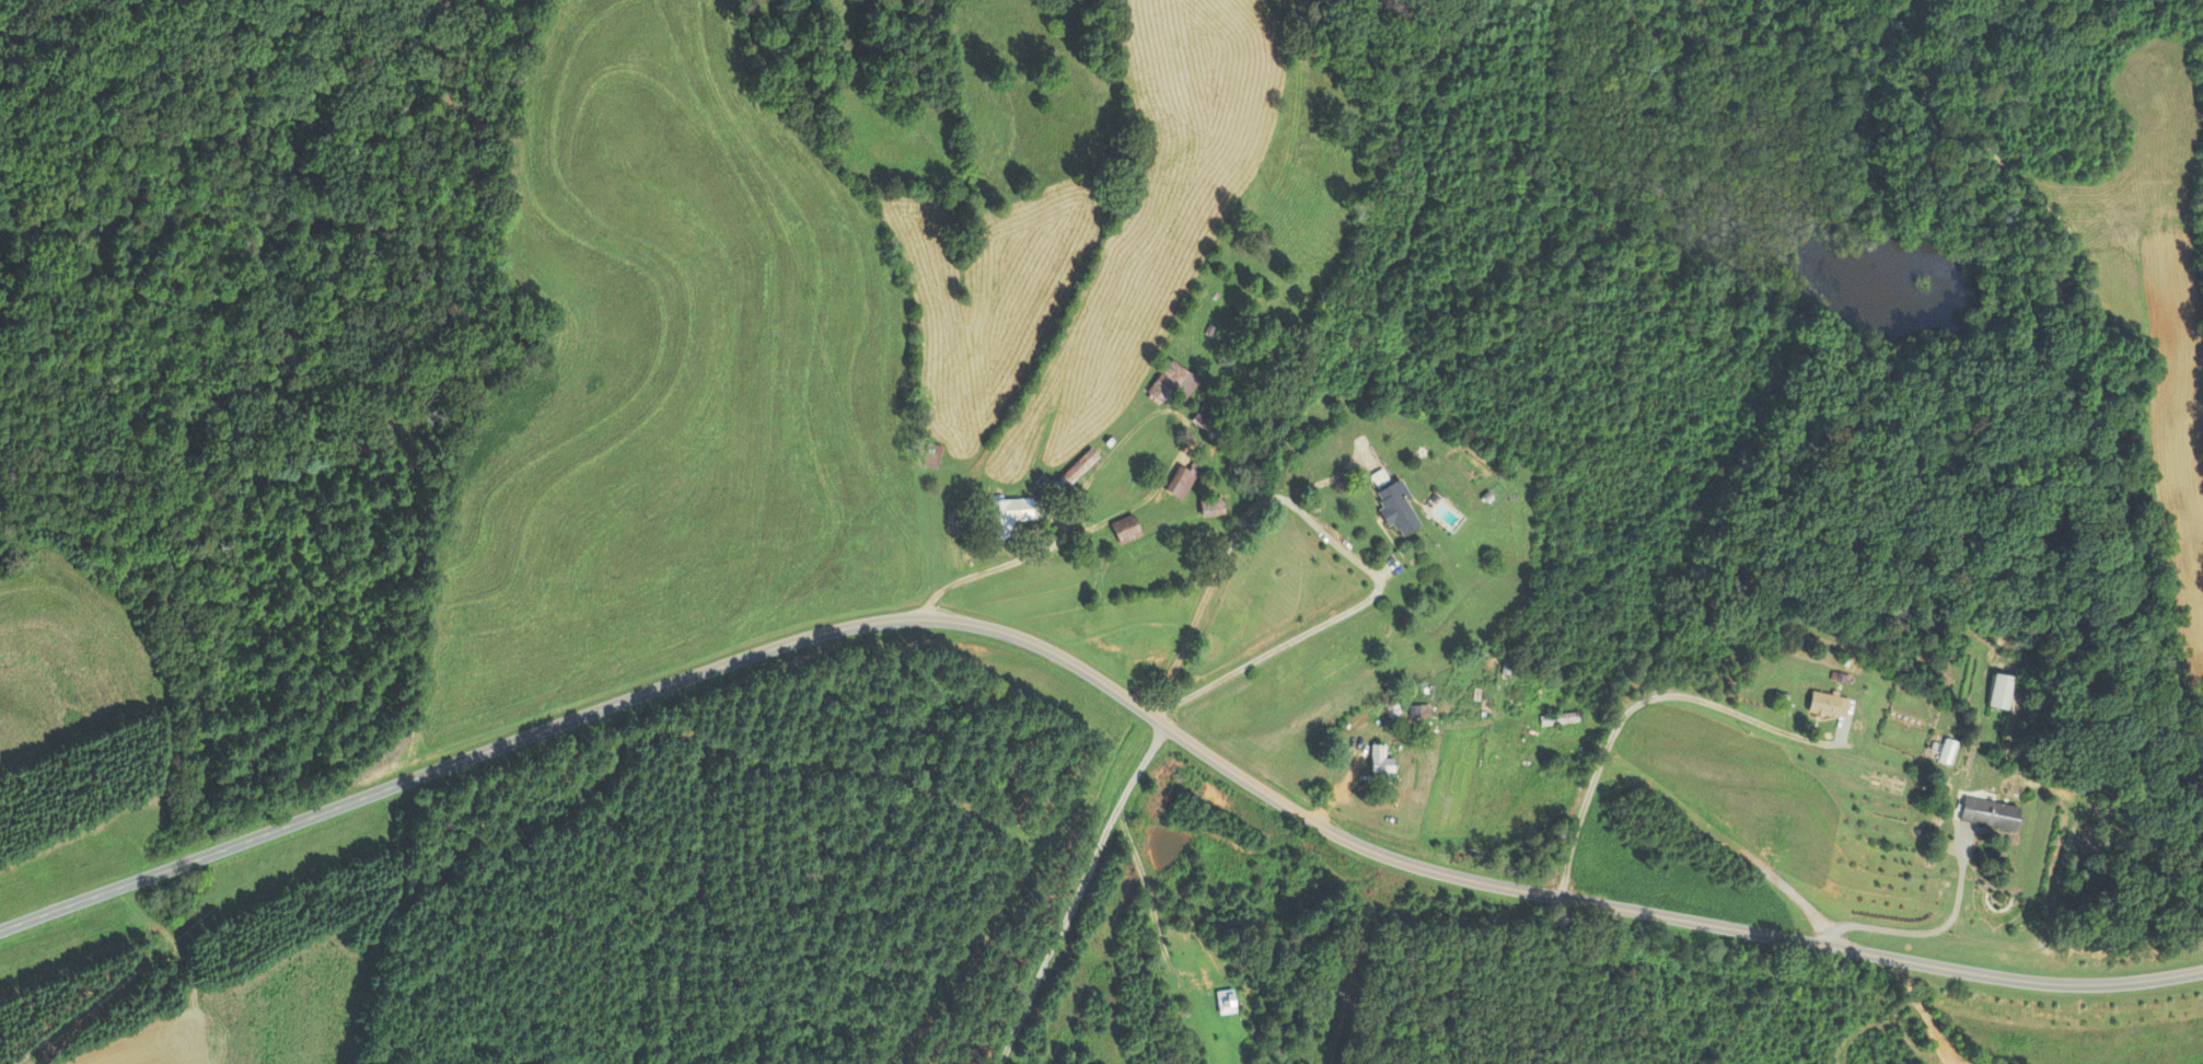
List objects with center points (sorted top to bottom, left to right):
building: (1172, 384)
building: (1207, 418)
building: (930, 455)
building: (1074, 471)
building: (1379, 477)
building: (1181, 479)
building: (1396, 509)
building: (1008, 516)
building: (1125, 529)
road: (1333, 541)
road: (1100, 681)
building: (1999, 692)
road: (1658, 701)
building: (1828, 706)
building: (1417, 712)
building: (1558, 719)
building: (1944, 751)
building: (1379, 764)
building: (1990, 814)
road: (1075, 899)
road: (1929, 920)
road: (1152, 934)

